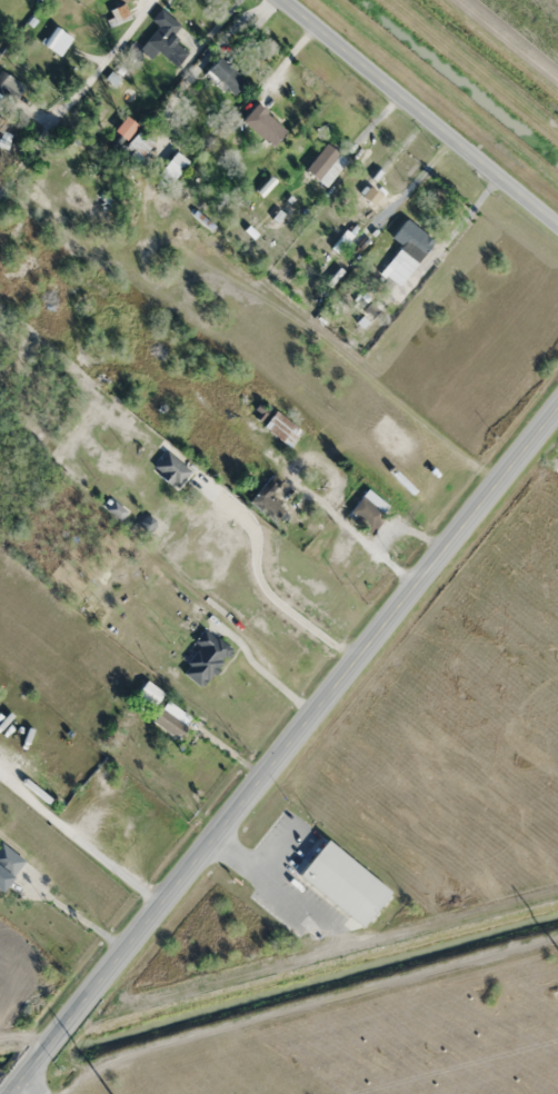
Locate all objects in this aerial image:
building: (123, 0)
building: (117, 13)
building: (166, 38)
road: (49, 58)
building: (223, 77)
road: (422, 110)
building: (263, 125)
building: (124, 128)
building: (137, 145)
building: (325, 165)
building: (172, 167)
building: (413, 245)
building: (363, 309)
building: (281, 428)
building: (171, 469)
building: (267, 499)
building: (365, 514)
building: (205, 658)
building: (166, 713)
road: (285, 755)
building: (3, 877)
building: (340, 882)
road: (9, 1084)
road: (26, 1088)

